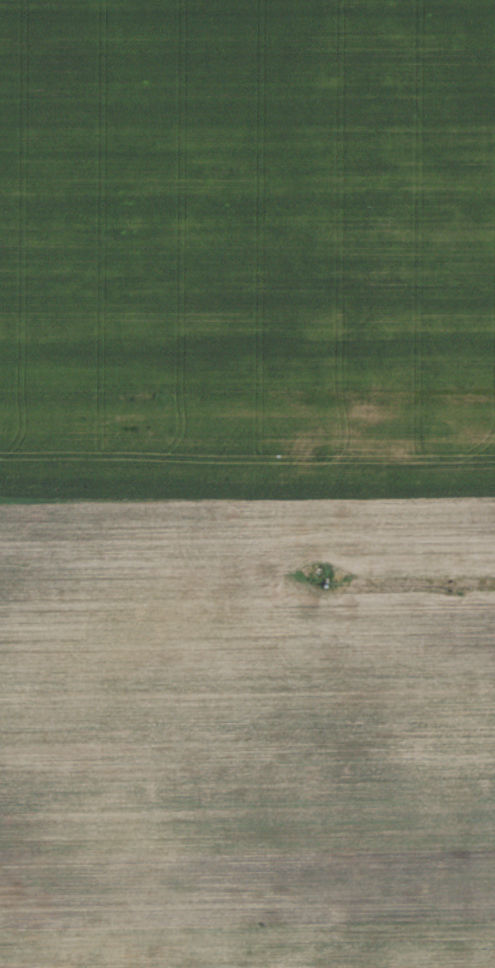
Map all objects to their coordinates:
crop: (247, 484)

